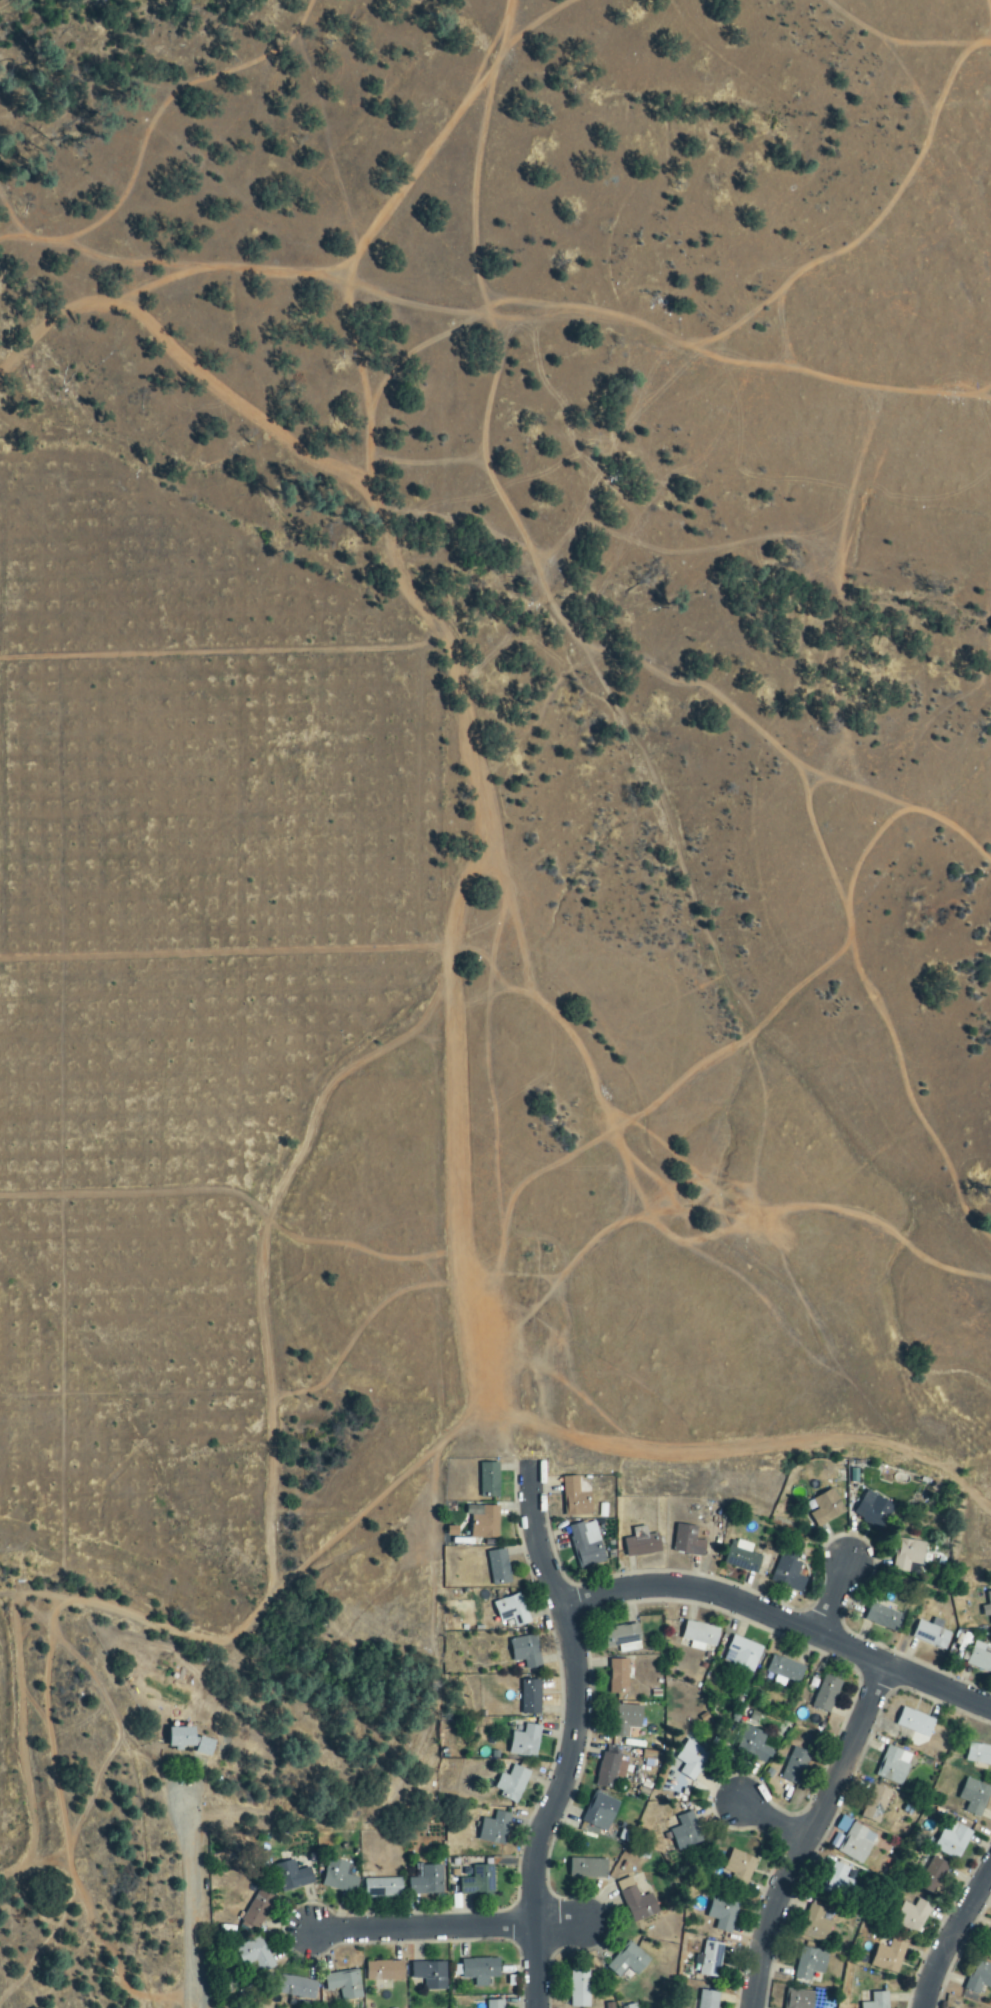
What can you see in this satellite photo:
building: (489, 1481)
building: (575, 1499)
building: (826, 1508)
building: (873, 1510)
building: (485, 1524)
building: (687, 1541)
building: (642, 1543)
building: (586, 1545)
building: (908, 1554)
building: (742, 1557)
building: (498, 1567)
building: (788, 1572)
road: (835, 1599)
building: (987, 1607)
building: (512, 1611)
building: (883, 1618)
road: (781, 1620)
building: (700, 1636)
building: (930, 1636)
building: (622, 1638)
building: (526, 1652)
building: (741, 1655)
building: (979, 1658)
building: (783, 1671)
building: (618, 1677)
building: (826, 1694)
building: (530, 1698)
building: (626, 1720)
building: (916, 1726)
road: (577, 1737)
building: (180, 1738)
building: (524, 1743)
building: (752, 1745)
building: (205, 1747)
building: (979, 1755)
building: (691, 1760)
building: (795, 1766)
building: (893, 1766)
building: (611, 1768)
building: (512, 1784)
building: (974, 1797)
building: (875, 1804)
building: (599, 1812)
road: (774, 1821)
building: (494, 1829)
building: (686, 1833)
road: (811, 1833)
building: (951, 1840)
building: (855, 1844)
building: (587, 1869)
building: (738, 1869)
building: (933, 1876)
building: (292, 1877)
building: (338, 1878)
building: (427, 1881)
building: (838, 1881)
building: (478, 1882)
building: (382, 1888)
road: (186, 1895)
building: (636, 1902)
building: (257, 1910)
building: (722, 1914)
building: (911, 1916)
road: (560, 1924)
building: (814, 1925)
road: (423, 1928)
building: (990, 1933)
road: (953, 1937)
building: (254, 1955)
building: (888, 1957)
building: (710, 1960)
building: (629, 1962)
building: (809, 1964)
building: (477, 1970)
building: (384, 1972)
building: (430, 1975)
building: (979, 1978)
building: (344, 1985)
building: (296, 1988)
building: (579, 1989)
building: (798, 1999)
building: (708, 2000)
building: (877, 2001)
building: (494, 2004)

